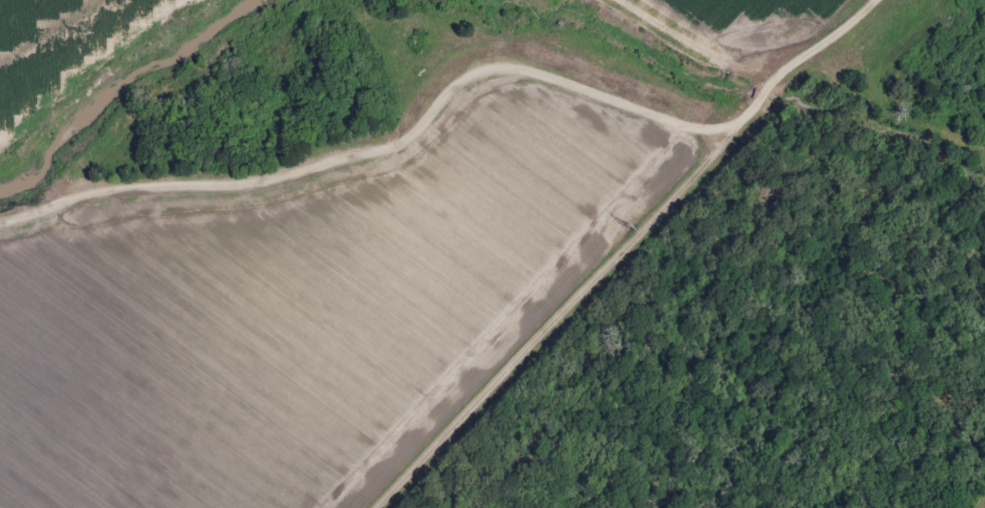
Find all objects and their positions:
power tower: (641, 241)

